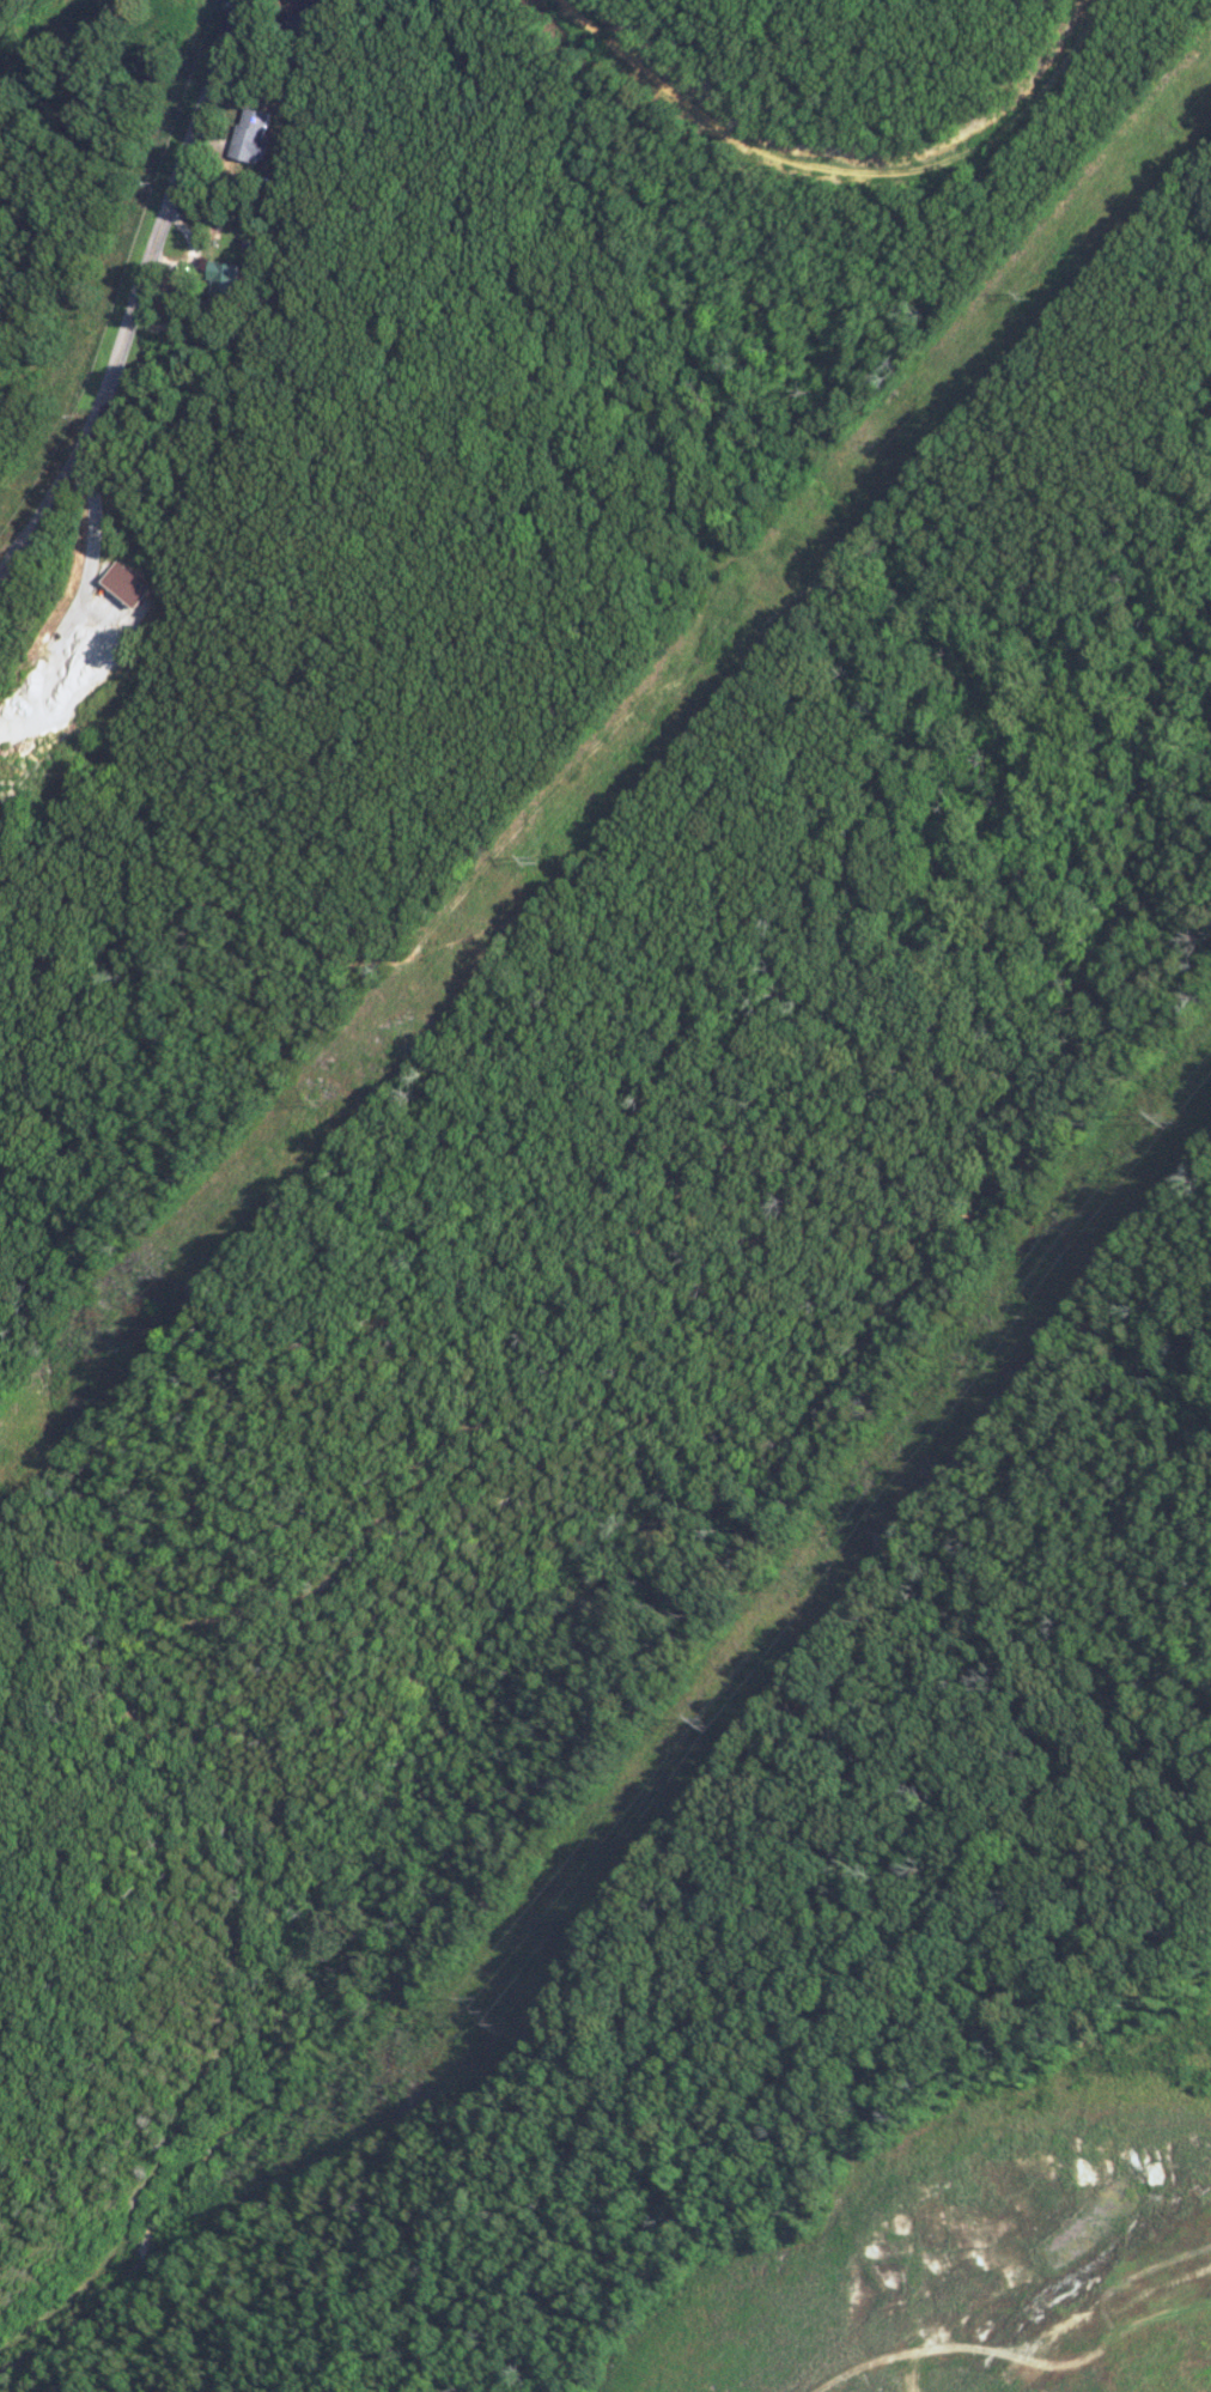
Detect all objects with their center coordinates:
building: (248, 135)
building: (220, 281)
power tower: (1020, 293)
road: (140, 297)
building: (121, 583)
power tower: (525, 862)
power tower: (1163, 1116)
power tower: (700, 1714)
power tower: (493, 2010)

